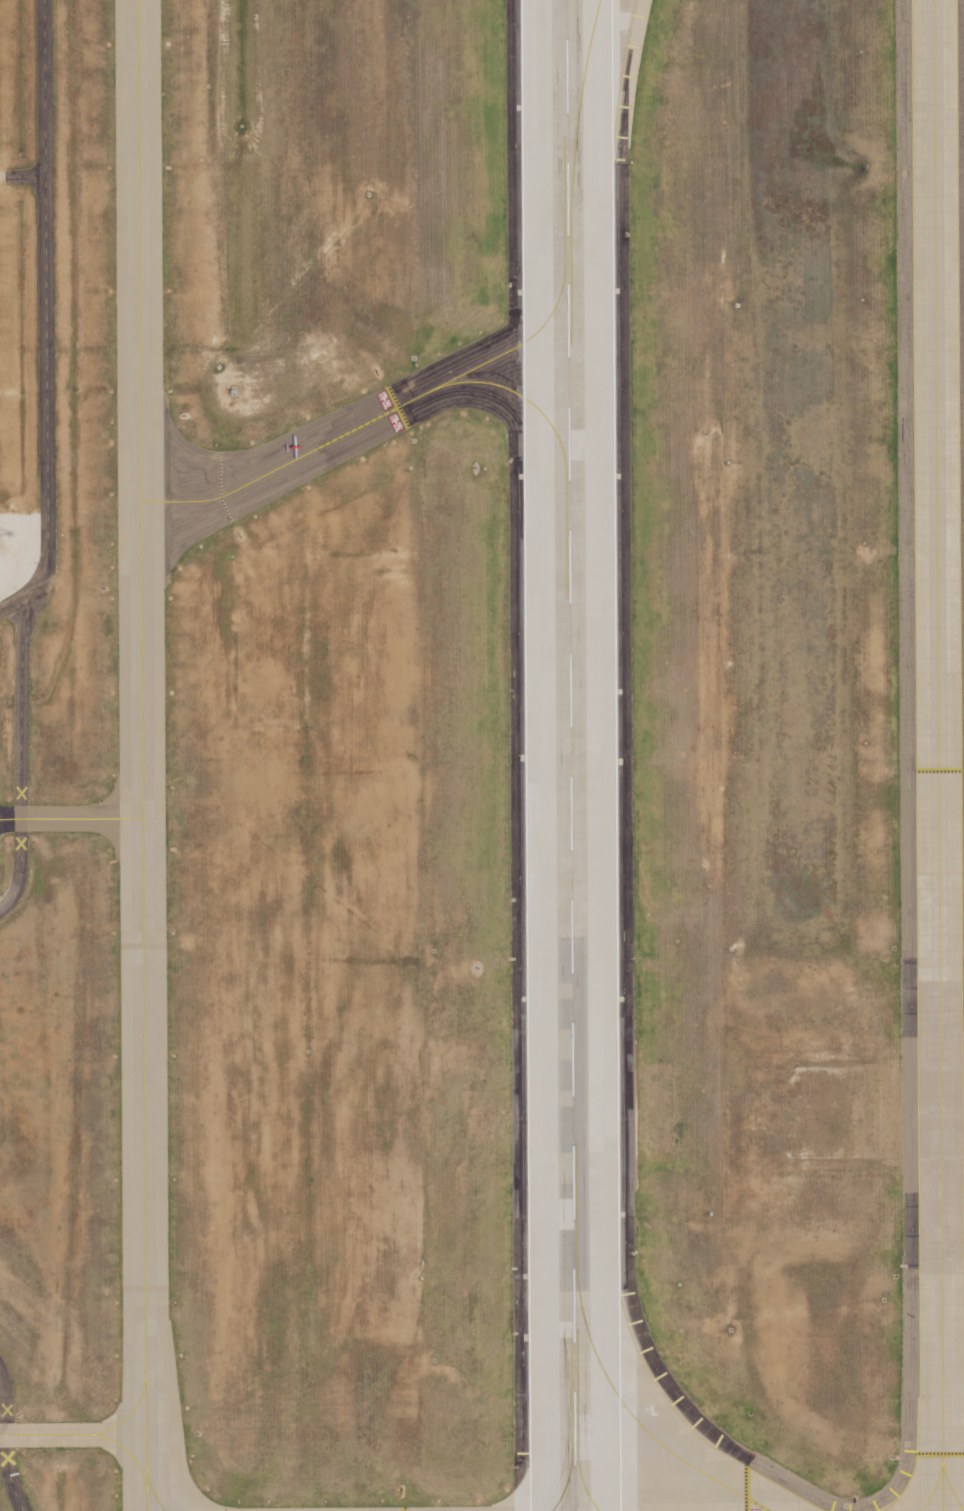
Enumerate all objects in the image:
airport taxiway: (579, 92)
road: (22, 176)
airport taxiway: (524, 399)
road: (950, 400)
road: (45, 411)
airport taxiway: (372, 420)
road: (16, 604)
airport taxiway: (140, 755)
airport: (482, 755)
airport runway: (570, 755)
airport taxiway: (937, 755)
airport taxiway: (70, 818)
road: (20, 865)
road: (4, 1403)
airport taxiway: (635, 1418)
airport taxiway: (71, 1432)
airport taxiway: (152, 1503)

